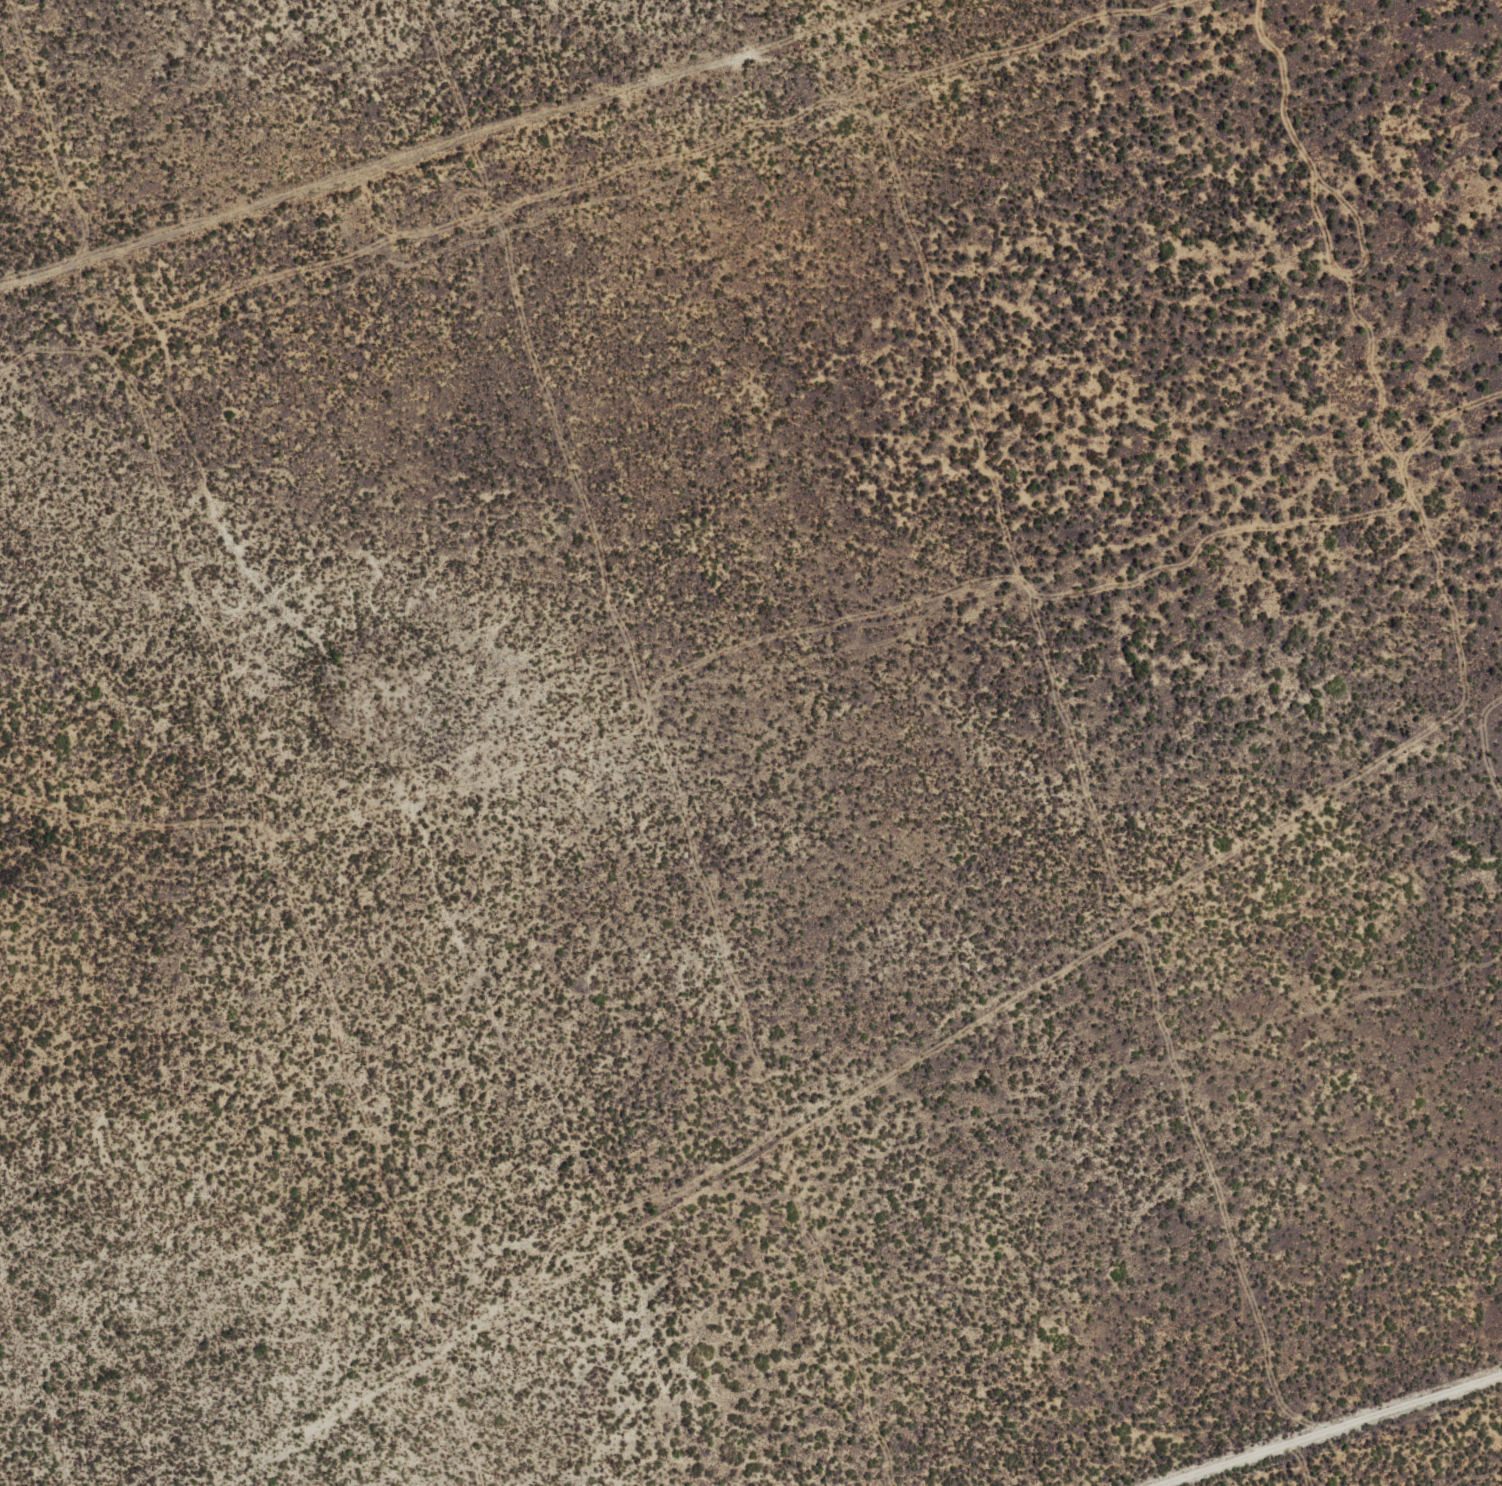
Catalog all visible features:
road: (390, 754)
road: (1357, 1438)

